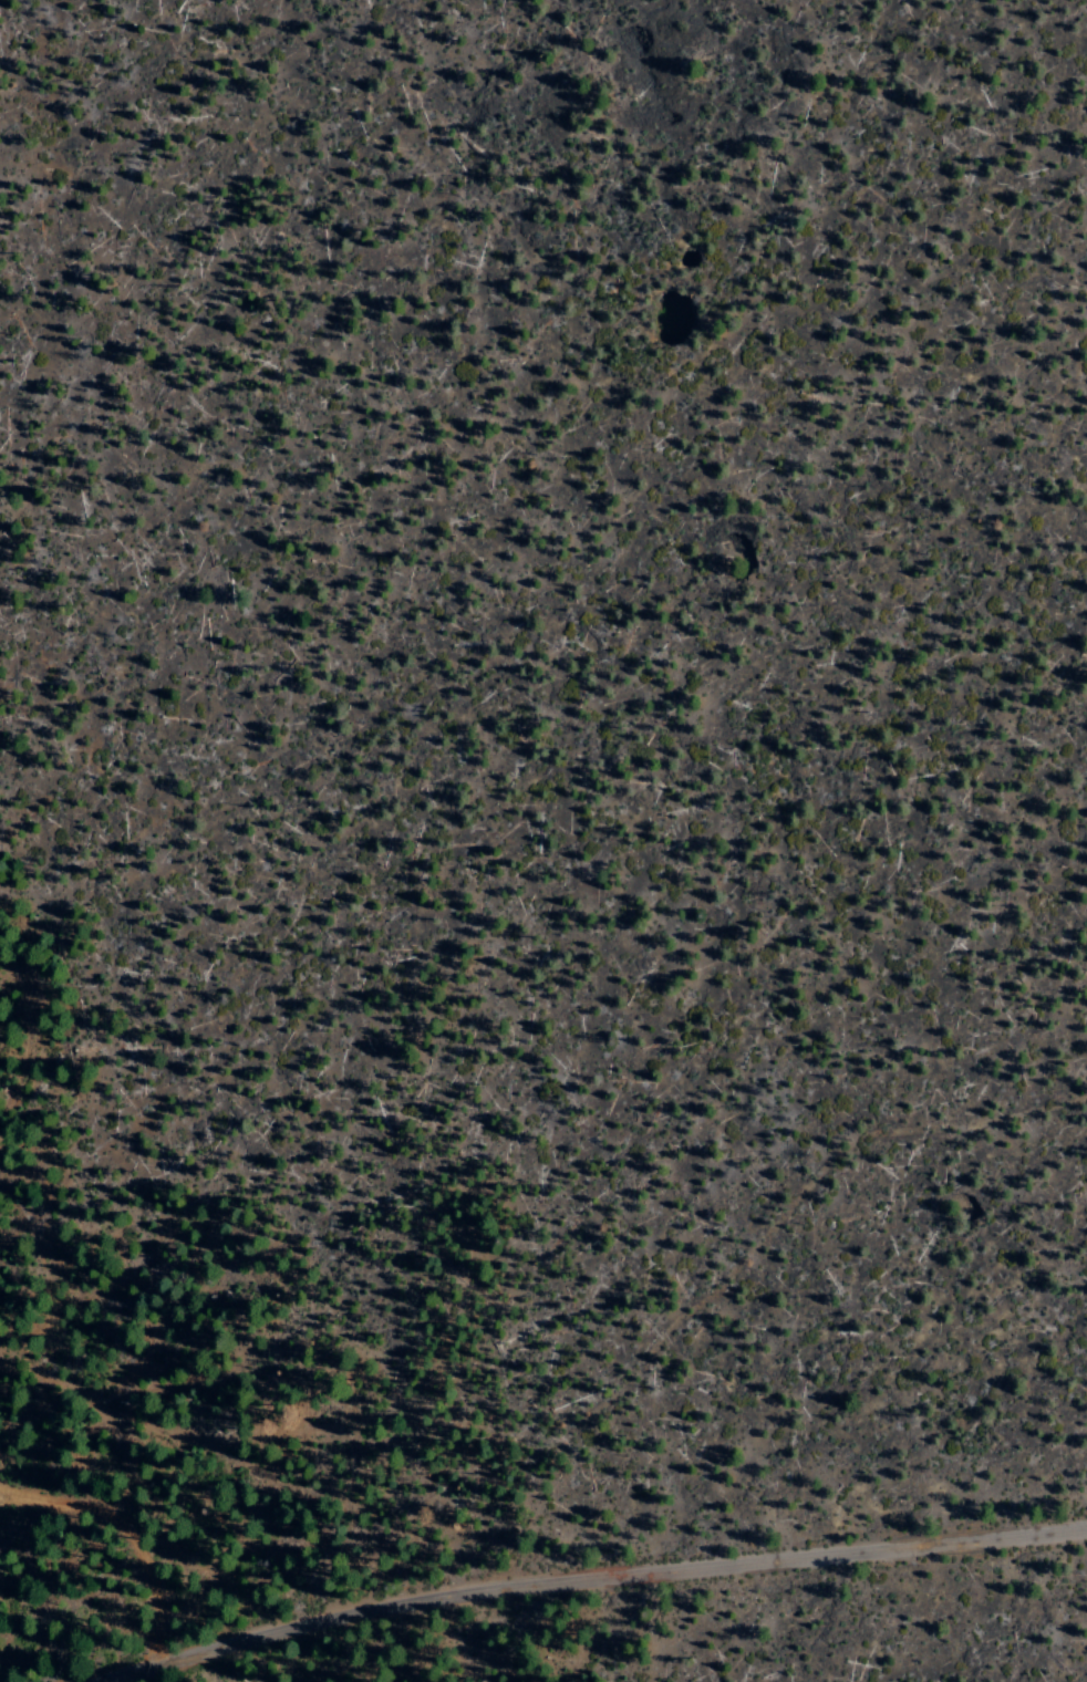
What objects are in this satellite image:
road: (611, 1584)

